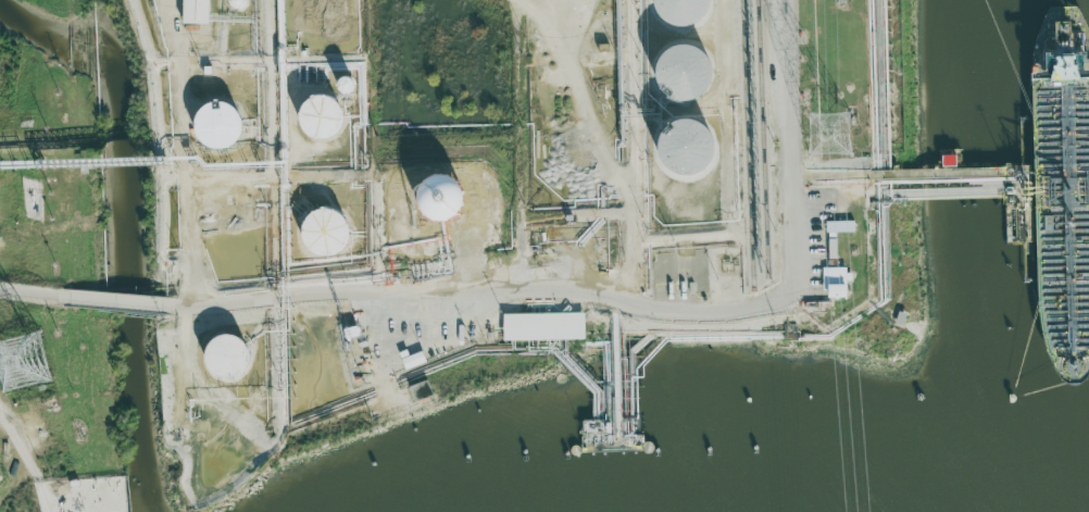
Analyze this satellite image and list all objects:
building: (230, 4)
building: (191, 11)
building: (674, 12)
building: (676, 73)
building: (338, 85)
building: (326, 121)
building: (220, 128)
railway: (763, 137)
power tower: (829, 137)
railway: (747, 145)
road: (515, 147)
building: (675, 149)
road: (263, 176)
pier: (1022, 176)
road: (853, 177)
building: (328, 236)
road: (790, 237)
building: (829, 248)
building: (476, 274)
building: (830, 282)
road: (53, 291)
road: (539, 294)
road: (136, 298)
building: (538, 326)
road: (464, 347)
building: (229, 360)
power tower: (18, 361)
road: (191, 369)
building: (416, 390)
road: (5, 424)
road: (25, 457)
road: (260, 485)

